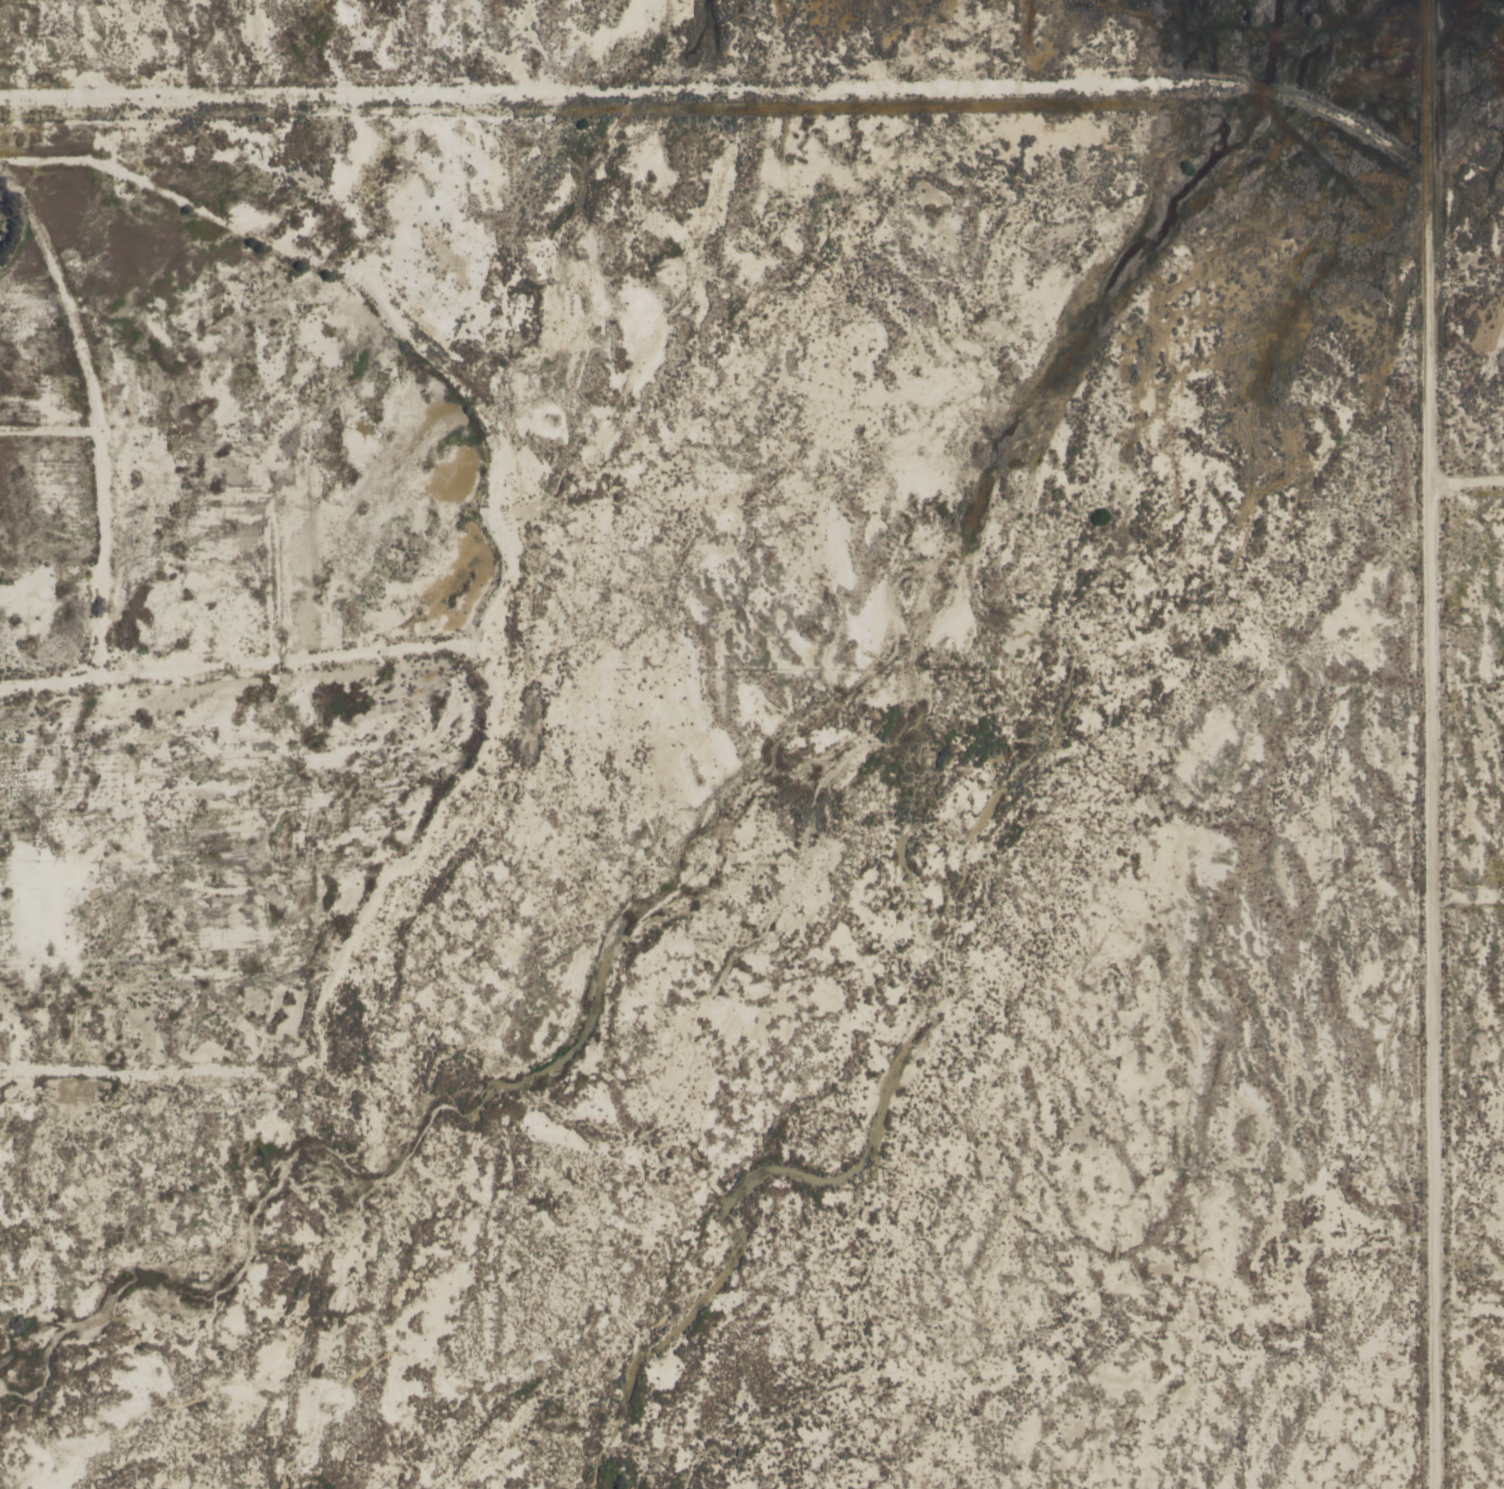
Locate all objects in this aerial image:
road: (1433, 871)

